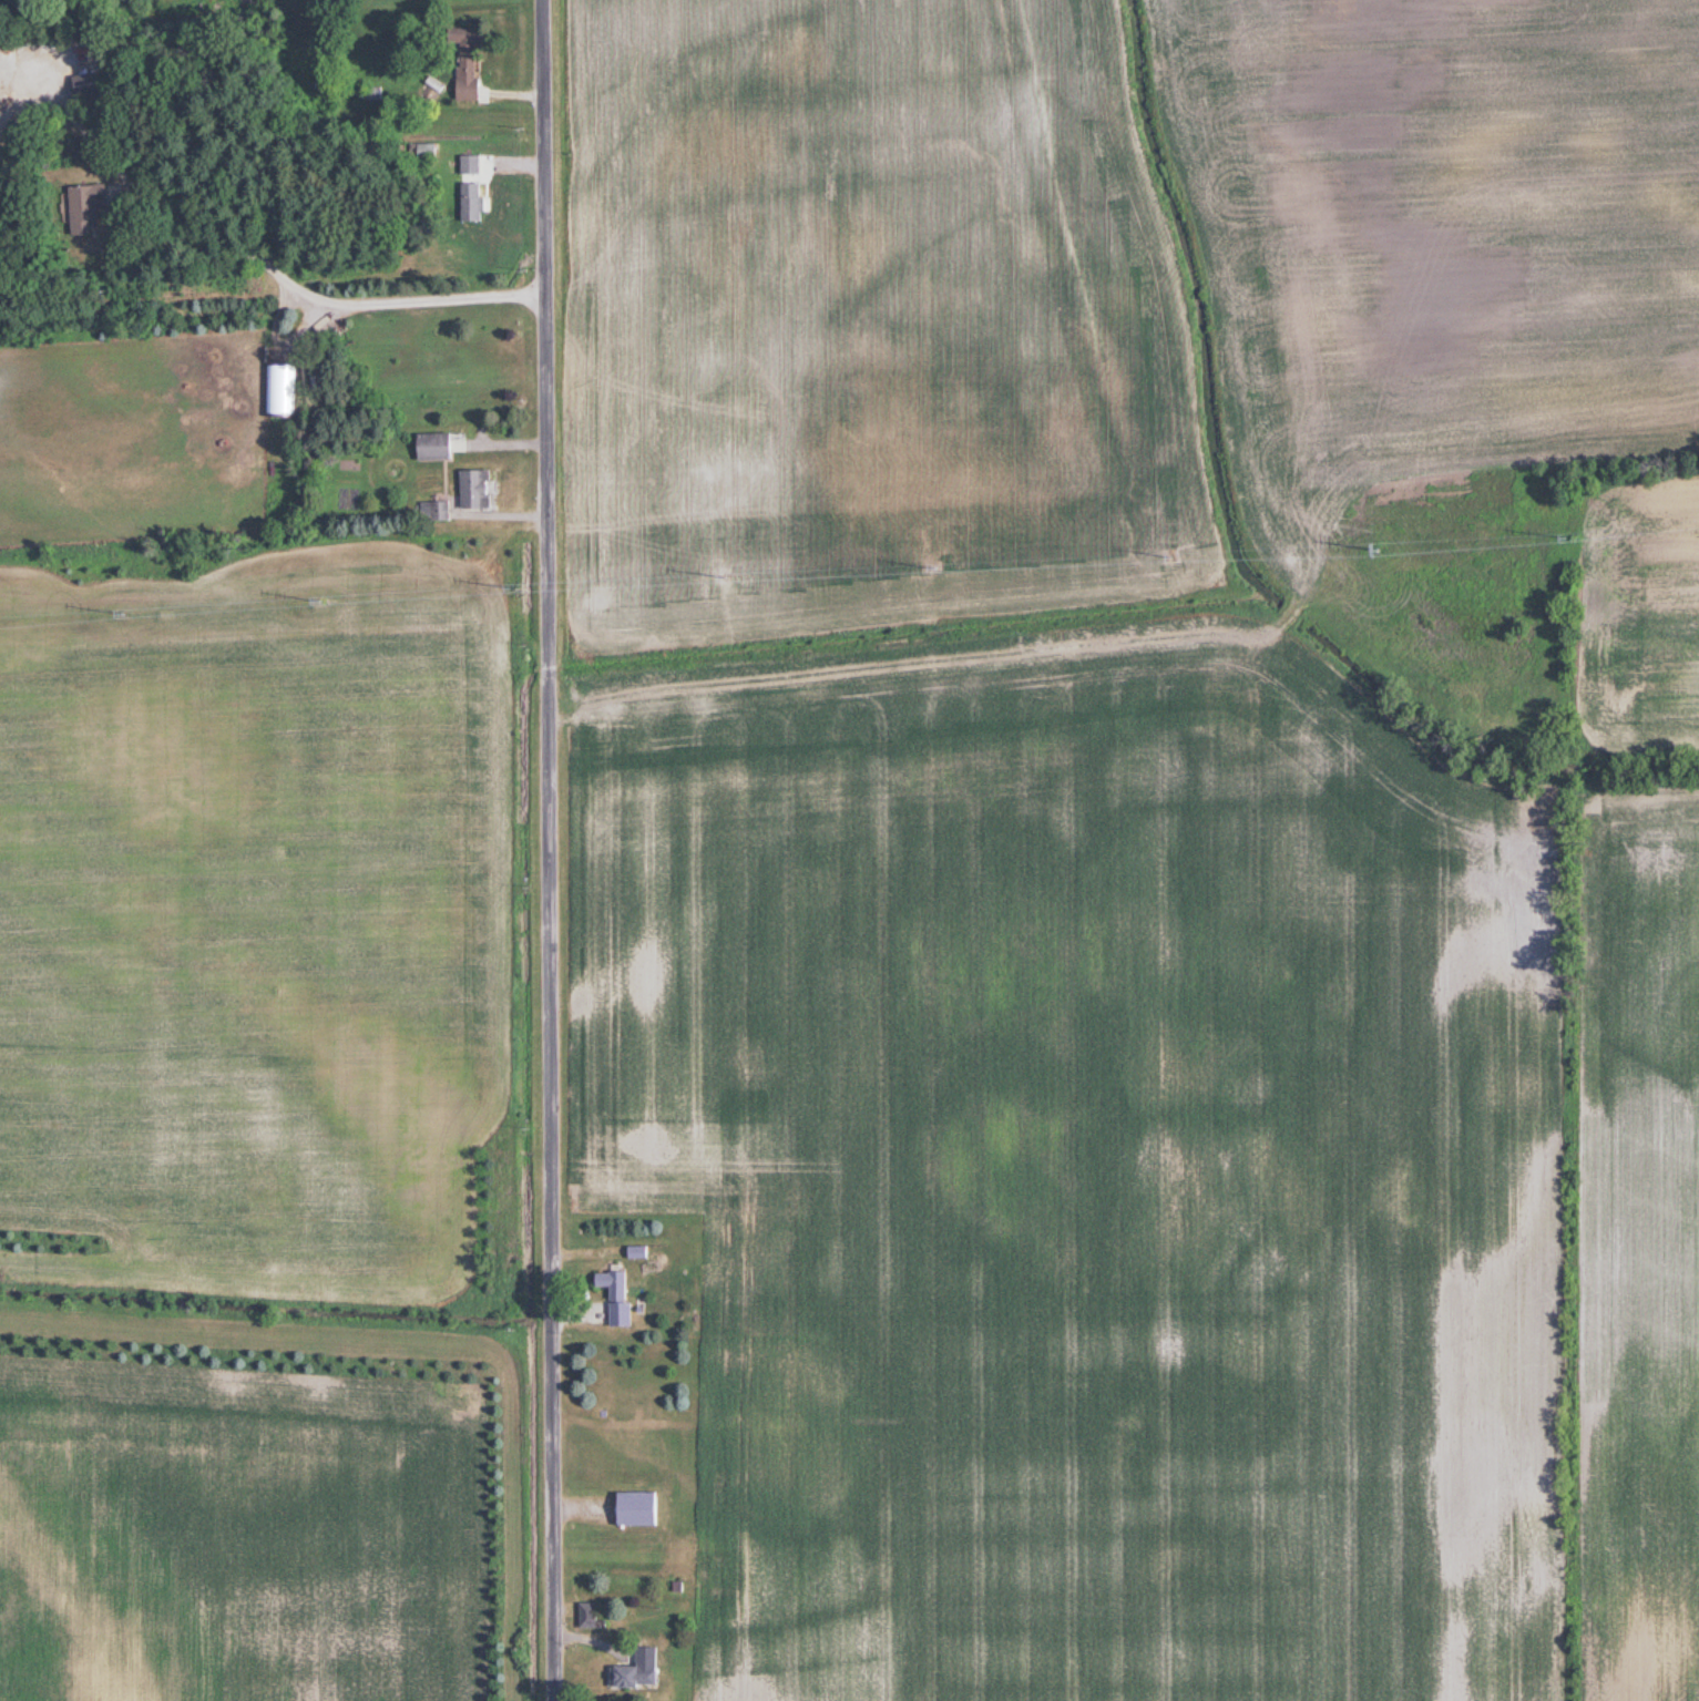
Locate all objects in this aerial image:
building: (0, 65)
building: (474, 80)
building: (3, 103)
building: (475, 186)
building: (94, 206)
road: (238, 243)
road: (502, 427)
building: (439, 447)
building: (481, 489)
road: (551, 850)
building: (642, 1250)
building: (643, 1508)
building: (643, 1676)

